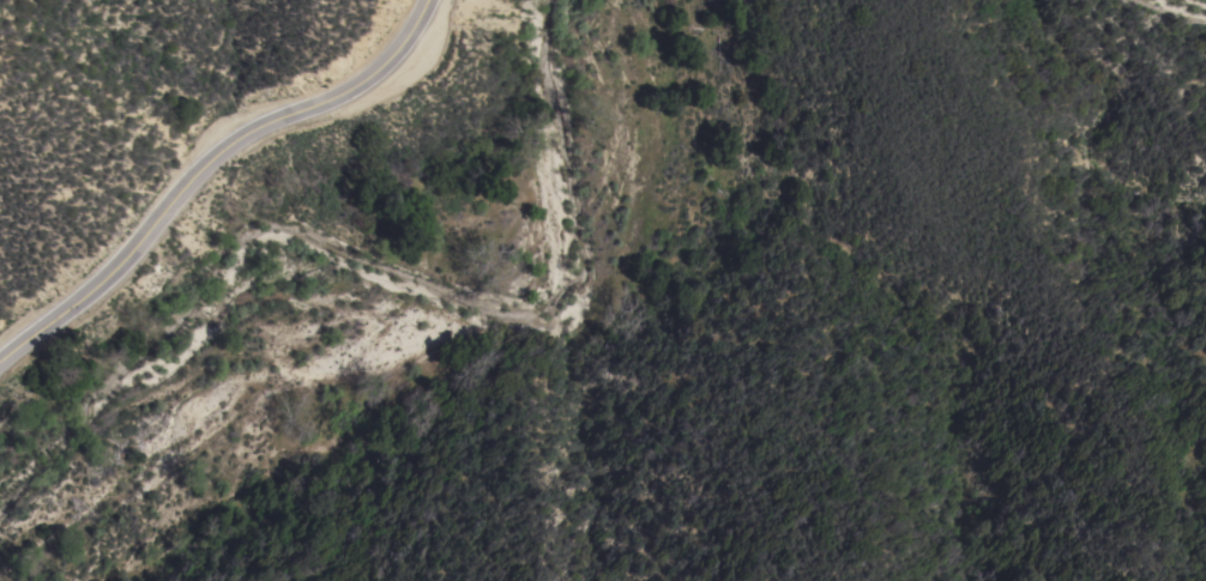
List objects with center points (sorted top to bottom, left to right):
road: (211, 170)

